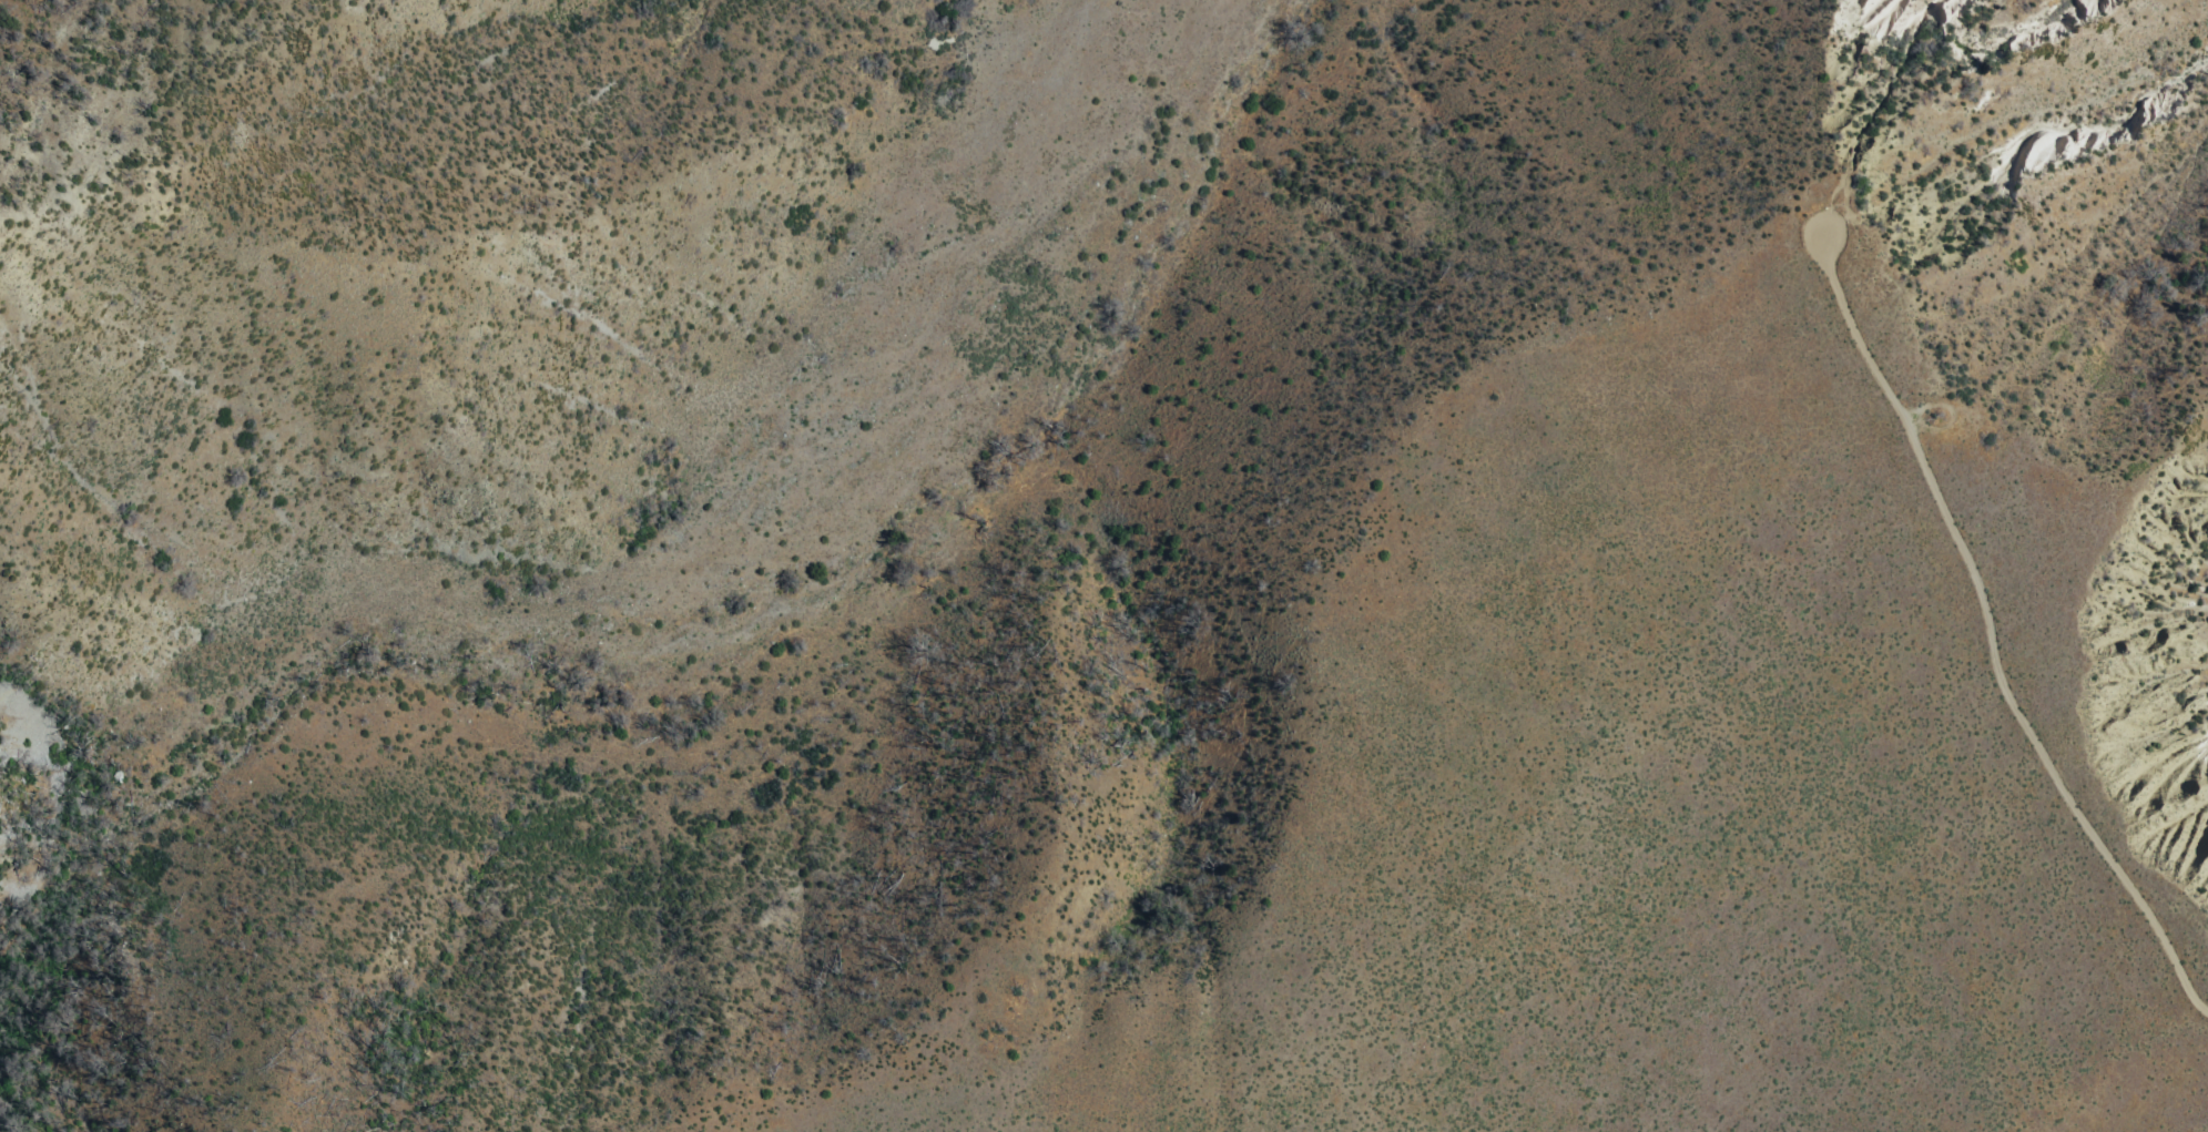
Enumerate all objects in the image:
road: (1823, 222)
road: (1993, 652)

